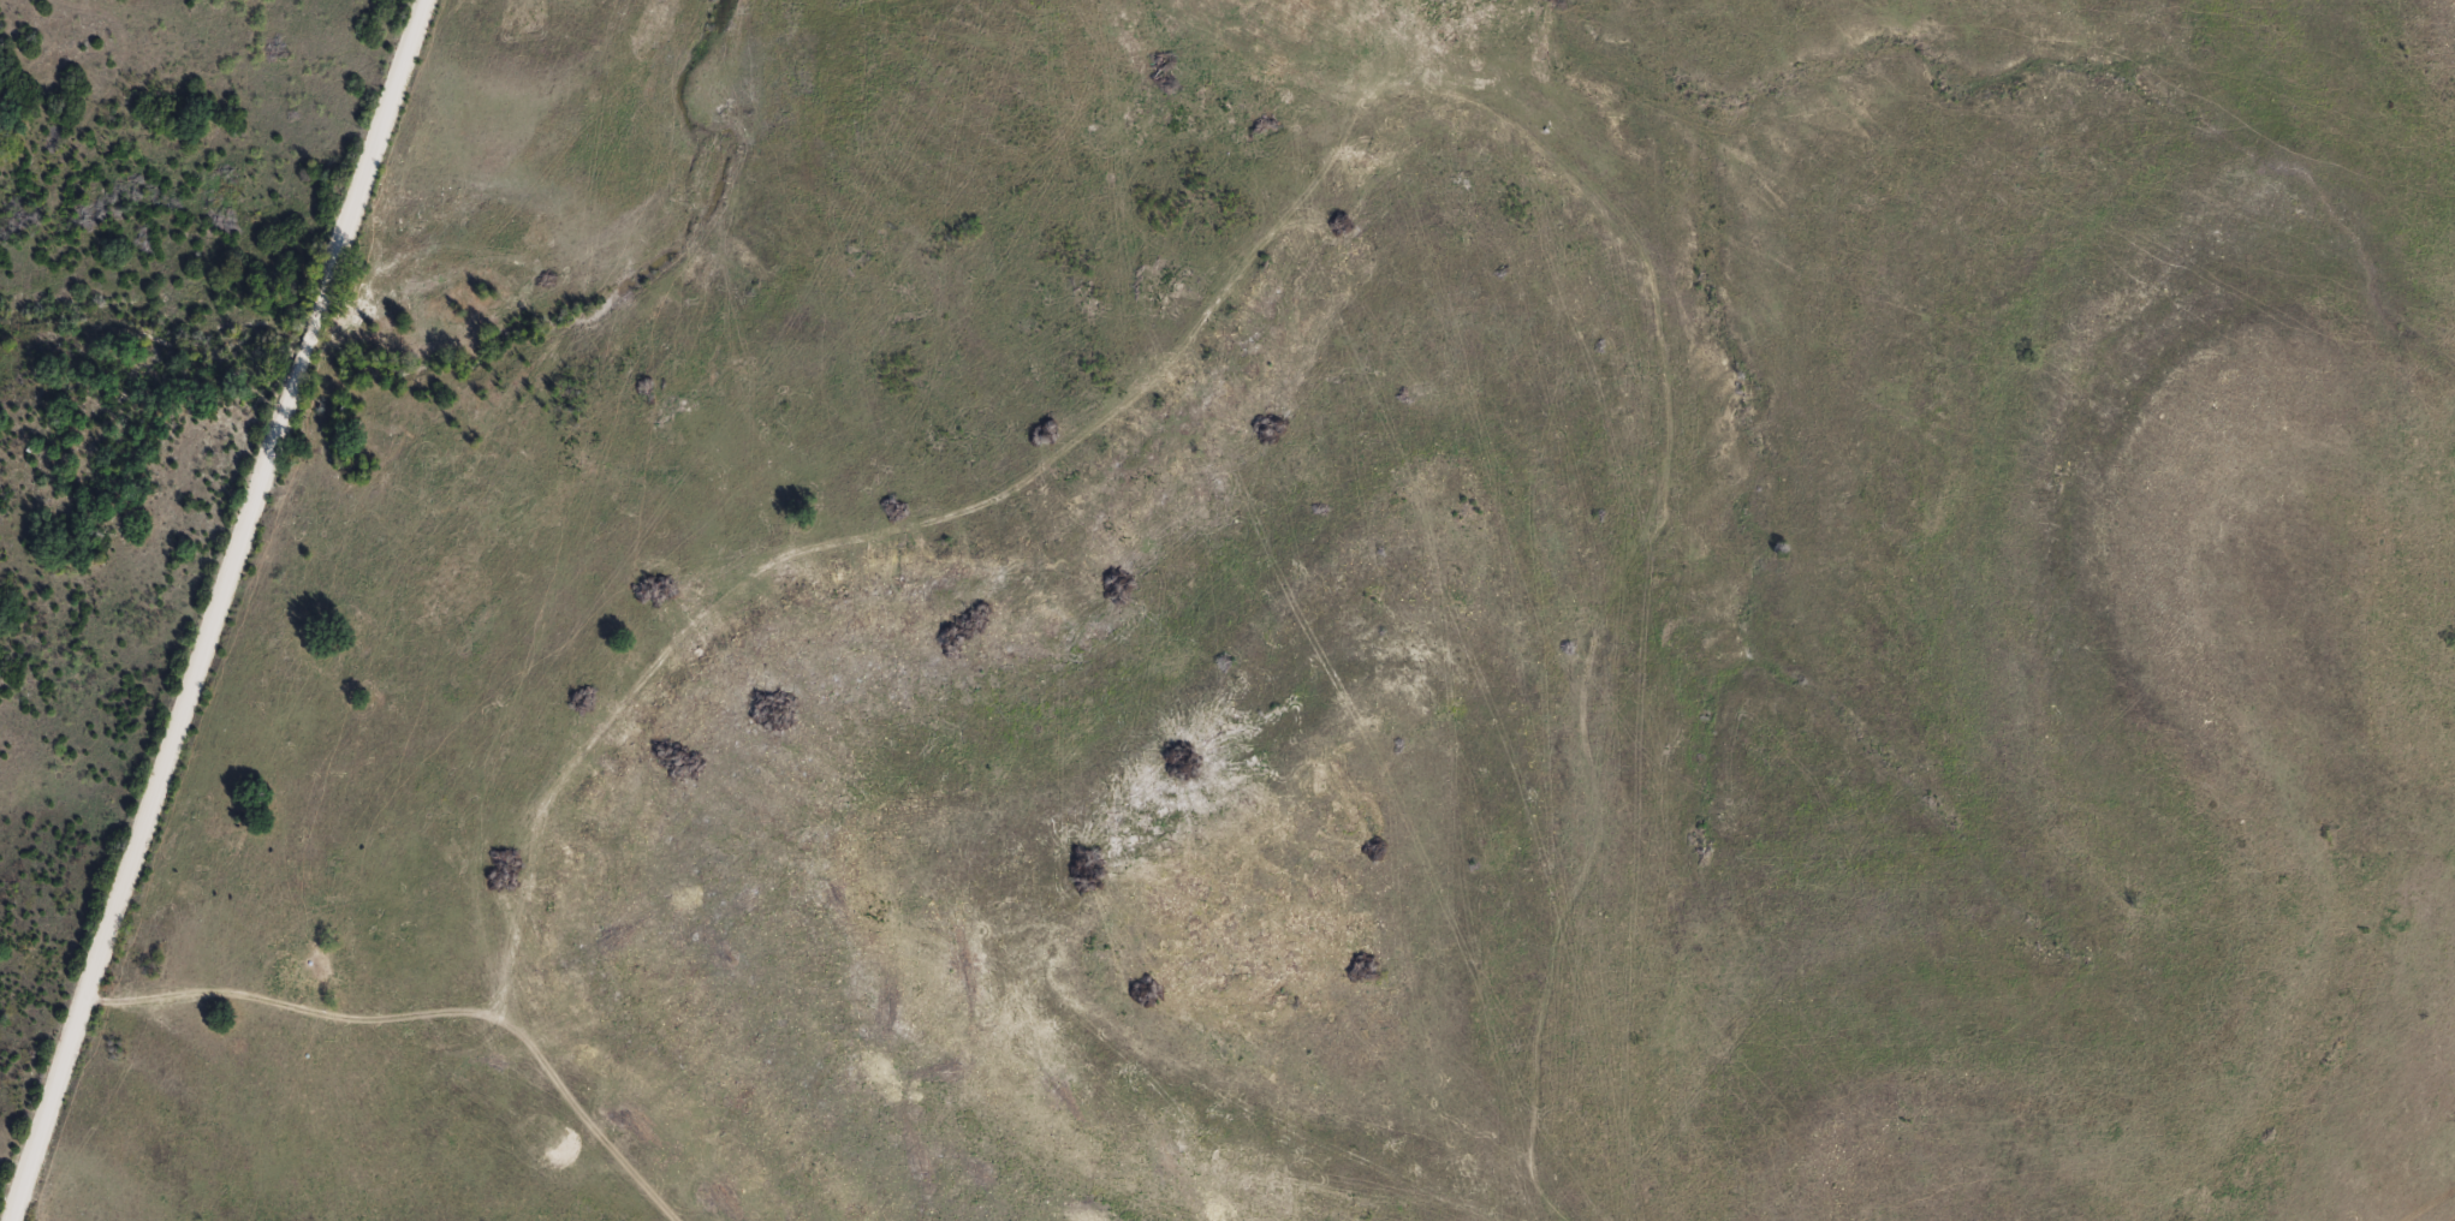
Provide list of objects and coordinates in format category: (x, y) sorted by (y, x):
road: (209, 608)
road: (472, 1019)
road: (1902, 1047)

